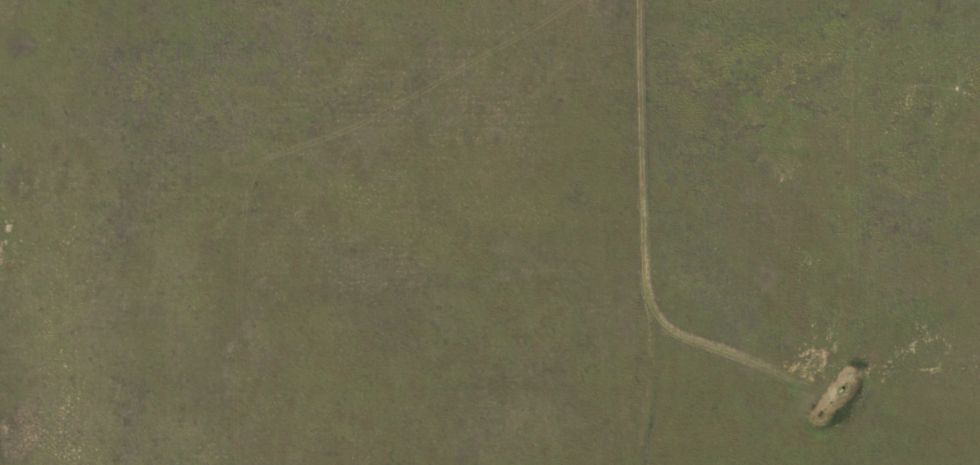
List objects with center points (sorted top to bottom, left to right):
road: (615, 236)

